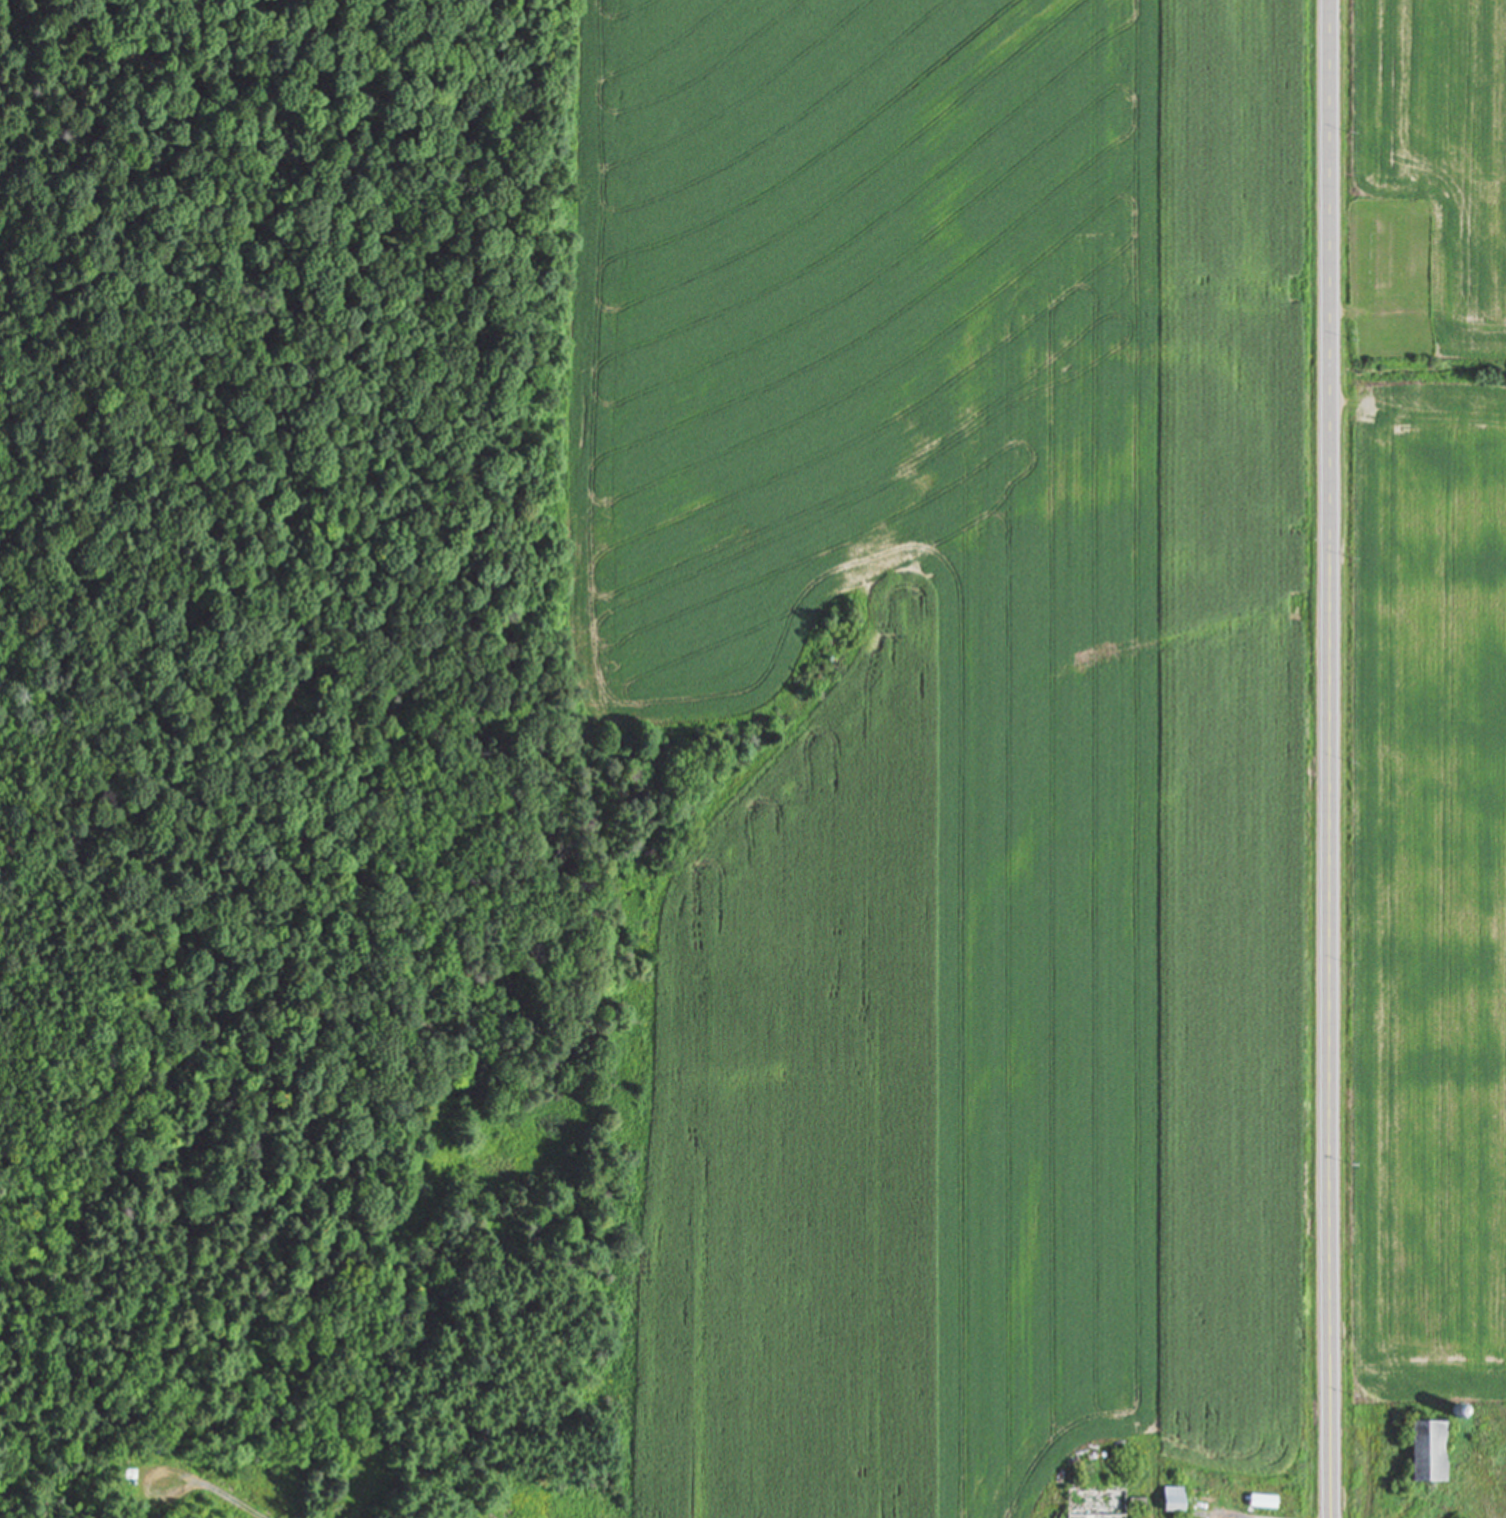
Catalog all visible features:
park: (1387, 283)
road: (1331, 758)
building: (1453, 1402)
building: (1418, 1444)
building: (129, 1485)
building: (1167, 1490)
building: (1256, 1492)
building: (1088, 1499)
building: (1260, 1501)
building: (1170, 1502)
river: (8, 1505)

